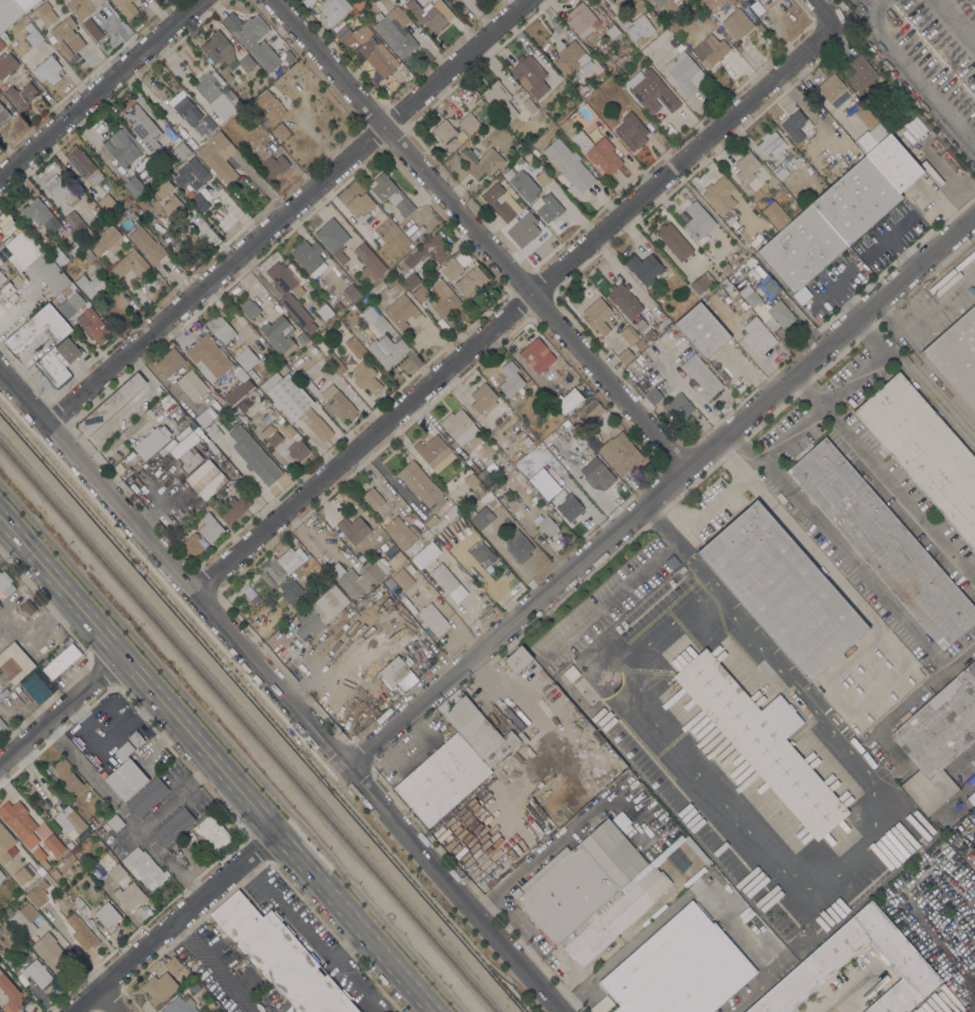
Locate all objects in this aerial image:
building: (746, 0)
building: (63, 1)
building: (401, 1)
building: (731, 1)
building: (24, 4)
building: (708, 4)
building: (672, 6)
building: (355, 7)
building: (757, 7)
building: (126, 8)
building: (333, 9)
building: (8, 13)
building: (43, 13)
building: (431, 13)
road: (823, 14)
building: (86, 15)
building: (582, 19)
building: (737, 23)
building: (676, 25)
building: (636, 27)
building: (613, 32)
building: (396, 33)
building: (34, 36)
building: (66, 36)
building: (252, 38)
building: (673, 42)
building: (1, 45)
building: (367, 47)
building: (219, 49)
building: (713, 50)
building: (287, 55)
building: (572, 60)
building: (246, 62)
building: (615, 63)
building: (6, 65)
road: (920, 69)
building: (48, 70)
building: (685, 71)
building: (861, 72)
building: (225, 73)
building: (530, 75)
building: (584, 89)
road: (105, 90)
building: (834, 90)
building: (652, 91)
building: (216, 93)
building: (21, 95)
building: (500, 100)
building: (858, 104)
building: (529, 105)
building: (268, 106)
building: (3, 115)
building: (193, 115)
building: (468, 123)
building: (794, 125)
building: (142, 128)
building: (280, 131)
building: (631, 132)
building: (448, 134)
building: (870, 137)
building: (771, 143)
building: (806, 144)
building: (122, 147)
building: (519, 148)
building: (180, 150)
building: (598, 151)
building: (811, 151)
building: (219, 156)
building: (526, 156)
building: (519, 160)
building: (800, 160)
building: (481, 161)
building: (894, 163)
building: (83, 165)
building: (274, 165)
building: (569, 166)
building: (746, 166)
building: (779, 170)
building: (191, 171)
building: (507, 173)
building: (542, 177)
building: (499, 178)
building: (135, 186)
building: (524, 186)
building: (163, 187)
building: (780, 187)
building: (61, 191)
building: (187, 191)
building: (391, 193)
building: (719, 194)
building: (127, 199)
building: (498, 201)
building: (107, 202)
building: (200, 202)
building: (360, 206)
building: (174, 207)
road: (293, 209)
building: (543, 210)
building: (39, 214)
building: (74, 220)
building: (698, 221)
building: (829, 224)
building: (96, 229)
building: (82, 231)
road: (473, 234)
building: (333, 238)
building: (105, 240)
building: (674, 241)
building: (75, 244)
building: (147, 245)
building: (25, 251)
building: (426, 253)
building: (88, 254)
building: (309, 257)
building: (740, 260)
building: (750, 261)
building: (369, 262)
building: (130, 263)
building: (735, 263)
building: (644, 267)
building: (726, 268)
building: (448, 270)
building: (51, 275)
building: (2, 276)
building: (16, 279)
building: (411, 280)
building: (701, 281)
building: (470, 282)
building: (91, 286)
building: (726, 286)
building: (72, 287)
building: (376, 288)
building: (351, 291)
building: (285, 293)
building: (421, 293)
building: (620, 295)
building: (443, 298)
building: (75, 300)
building: (761, 303)
building: (338, 305)
building: (249, 307)
building: (402, 311)
building: (324, 313)
road: (517, 313)
building: (598, 315)
building: (379, 321)
building: (92, 325)
building: (311, 327)
building: (220, 328)
building: (702, 330)
building: (649, 333)
building: (279, 335)
building: (628, 335)
building: (758, 336)
building: (301, 338)
building: (355, 346)
building: (312, 348)
building: (387, 350)
building: (683, 353)
building: (537, 355)
building: (625, 356)
building: (956, 356)
building: (208, 357)
building: (246, 358)
building: (58, 361)
building: (169, 362)
building: (335, 362)
road: (924, 362)
building: (366, 376)
building: (701, 377)
building: (511, 379)
building: (306, 381)
building: (191, 384)
building: (238, 386)
building: (650, 391)
building: (483, 398)
building: (569, 401)
building: (294, 402)
building: (112, 403)
building: (338, 403)
building: (678, 407)
building: (590, 410)
building: (207, 419)
building: (137, 426)
building: (461, 428)
building: (289, 429)
building: (214, 433)
road: (791, 433)
building: (271, 434)
building: (152, 441)
building: (527, 441)
building: (298, 449)
building: (432, 450)
building: (924, 450)
building: (619, 451)
building: (254, 455)
railway: (937, 461)
building: (204, 469)
road: (884, 474)
building: (486, 476)
building: (599, 476)
building: (542, 479)
building: (471, 481)
building: (421, 484)
road: (657, 488)
building: (375, 501)
building: (460, 503)
building: (570, 507)
building: (235, 508)
building: (403, 516)
building: (481, 517)
building: (442, 518)
building: (546, 525)
building: (210, 526)
building: (353, 528)
building: (400, 532)
building: (445, 542)
building: (883, 542)
building: (191, 544)
building: (518, 546)
building: (427, 553)
building: (482, 553)
building: (672, 561)
road: (850, 561)
road: (694, 562)
building: (282, 564)
building: (682, 569)
building: (358, 576)
road: (629, 581)
building: (389, 582)
building: (448, 582)
building: (5, 583)
building: (782, 589)
building: (292, 591)
building: (28, 607)
building: (321, 611)
building: (433, 618)
building: (61, 660)
building: (517, 660)
building: (9, 669)
building: (569, 674)
building: (386, 680)
road: (278, 688)
road: (60, 709)
road: (890, 715)
railway: (249, 727)
road: (541, 727)
building: (479, 732)
building: (527, 732)
building: (136, 738)
building: (938, 738)
building: (762, 741)
road: (231, 747)
building: (123, 749)
road: (413, 753)
road: (968, 754)
road: (216, 764)
road: (92, 776)
building: (67, 777)
building: (126, 779)
building: (442, 779)
building: (962, 790)
building: (147, 795)
road: (178, 796)
building: (973, 805)
building: (45, 818)
building: (938, 818)
building: (70, 821)
building: (19, 822)
building: (113, 823)
building: (174, 825)
building: (99, 831)
building: (213, 832)
building: (5, 843)
building: (53, 844)
building: (695, 849)
building: (40, 856)
road: (170, 863)
road: (195, 865)
building: (144, 867)
building: (53, 872)
building: (24, 873)
building: (1, 875)
building: (579, 879)
building: (125, 886)
road: (802, 887)
building: (38, 892)
road: (852, 903)
building: (81, 905)
building: (144, 909)
building: (7, 912)
building: (746, 914)
building: (31, 915)
building: (108, 915)
building: (614, 916)
road: (172, 921)
road: (736, 926)
road: (306, 934)
building: (84, 935)
road: (341, 940)
building: (836, 948)
road: (626, 949)
building: (656, 951)
building: (51, 952)
building: (280, 956)
building: (173, 964)
road: (214, 967)
building: (37, 972)
building: (694, 977)
building: (159, 987)
building: (941, 992)
road: (843, 993)
building: (10, 994)
road: (111, 999)
building: (602, 1004)
building: (179, 1005)
building: (0, 1011)

